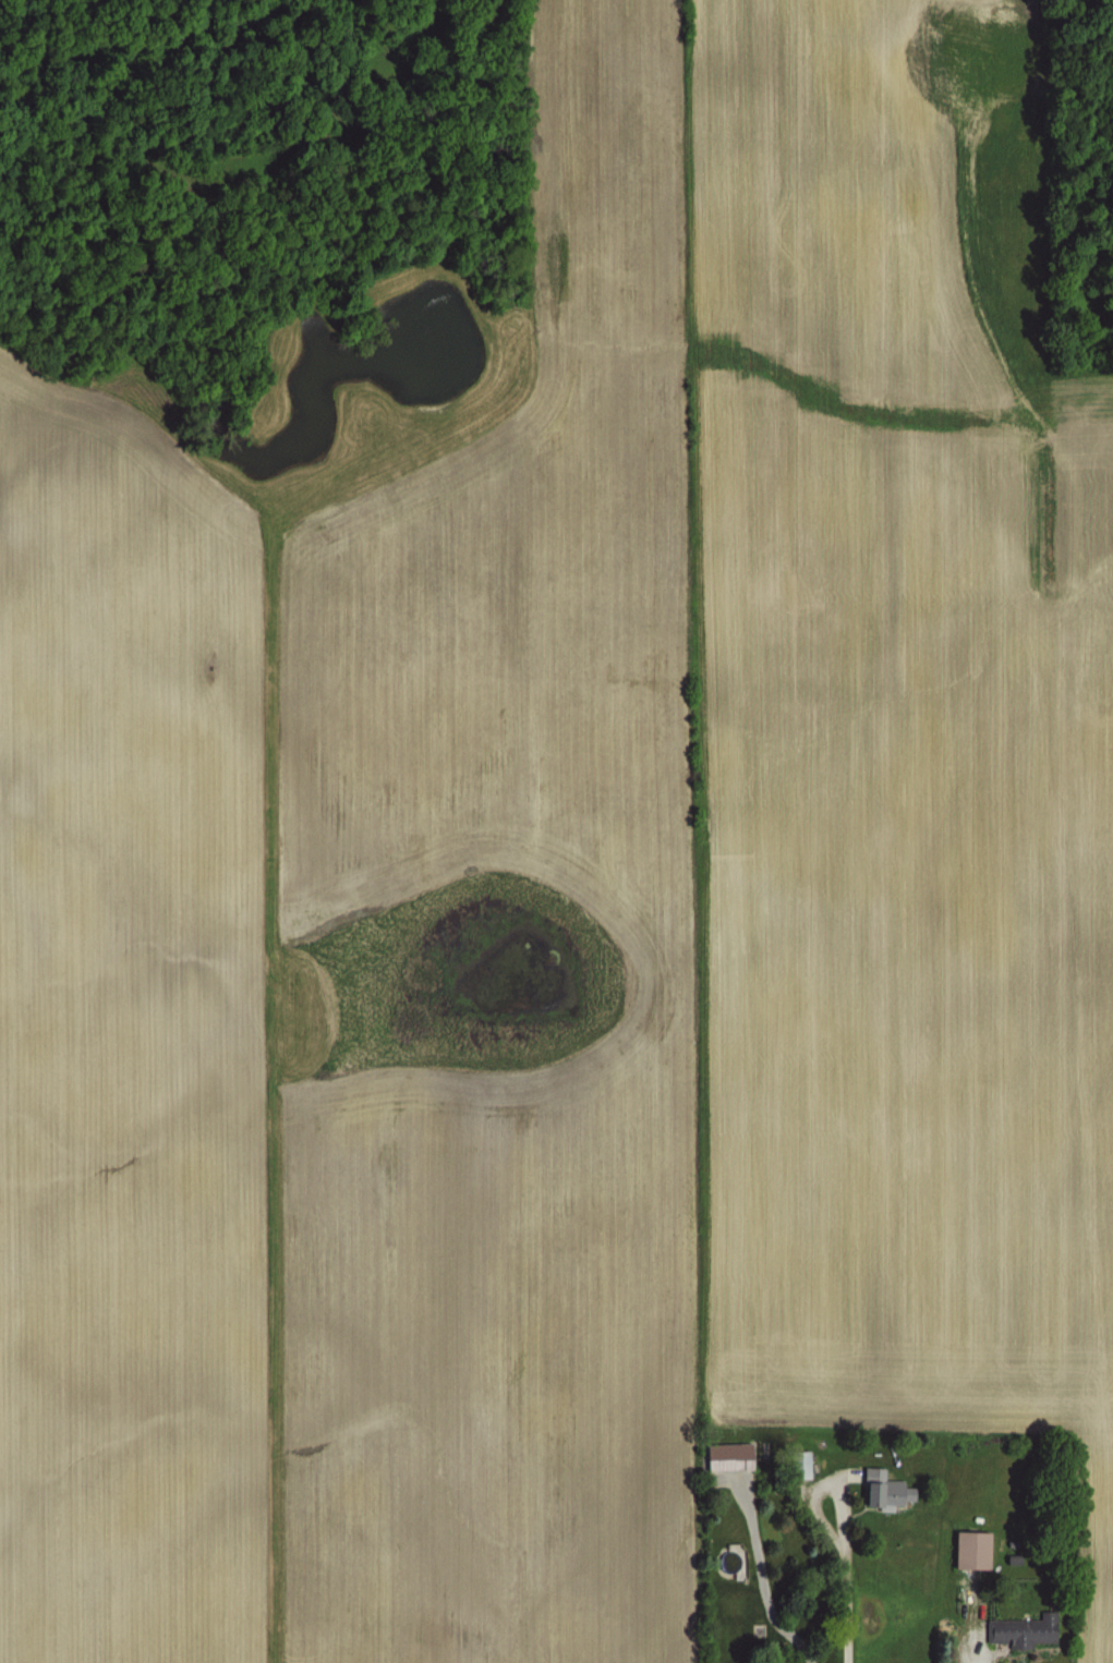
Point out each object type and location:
crop: (556, 832)
building: (724, 1454)
building: (796, 1464)
building: (879, 1486)
building: (967, 1547)
road: (847, 1570)
building: (1019, 1628)
road: (971, 1637)

